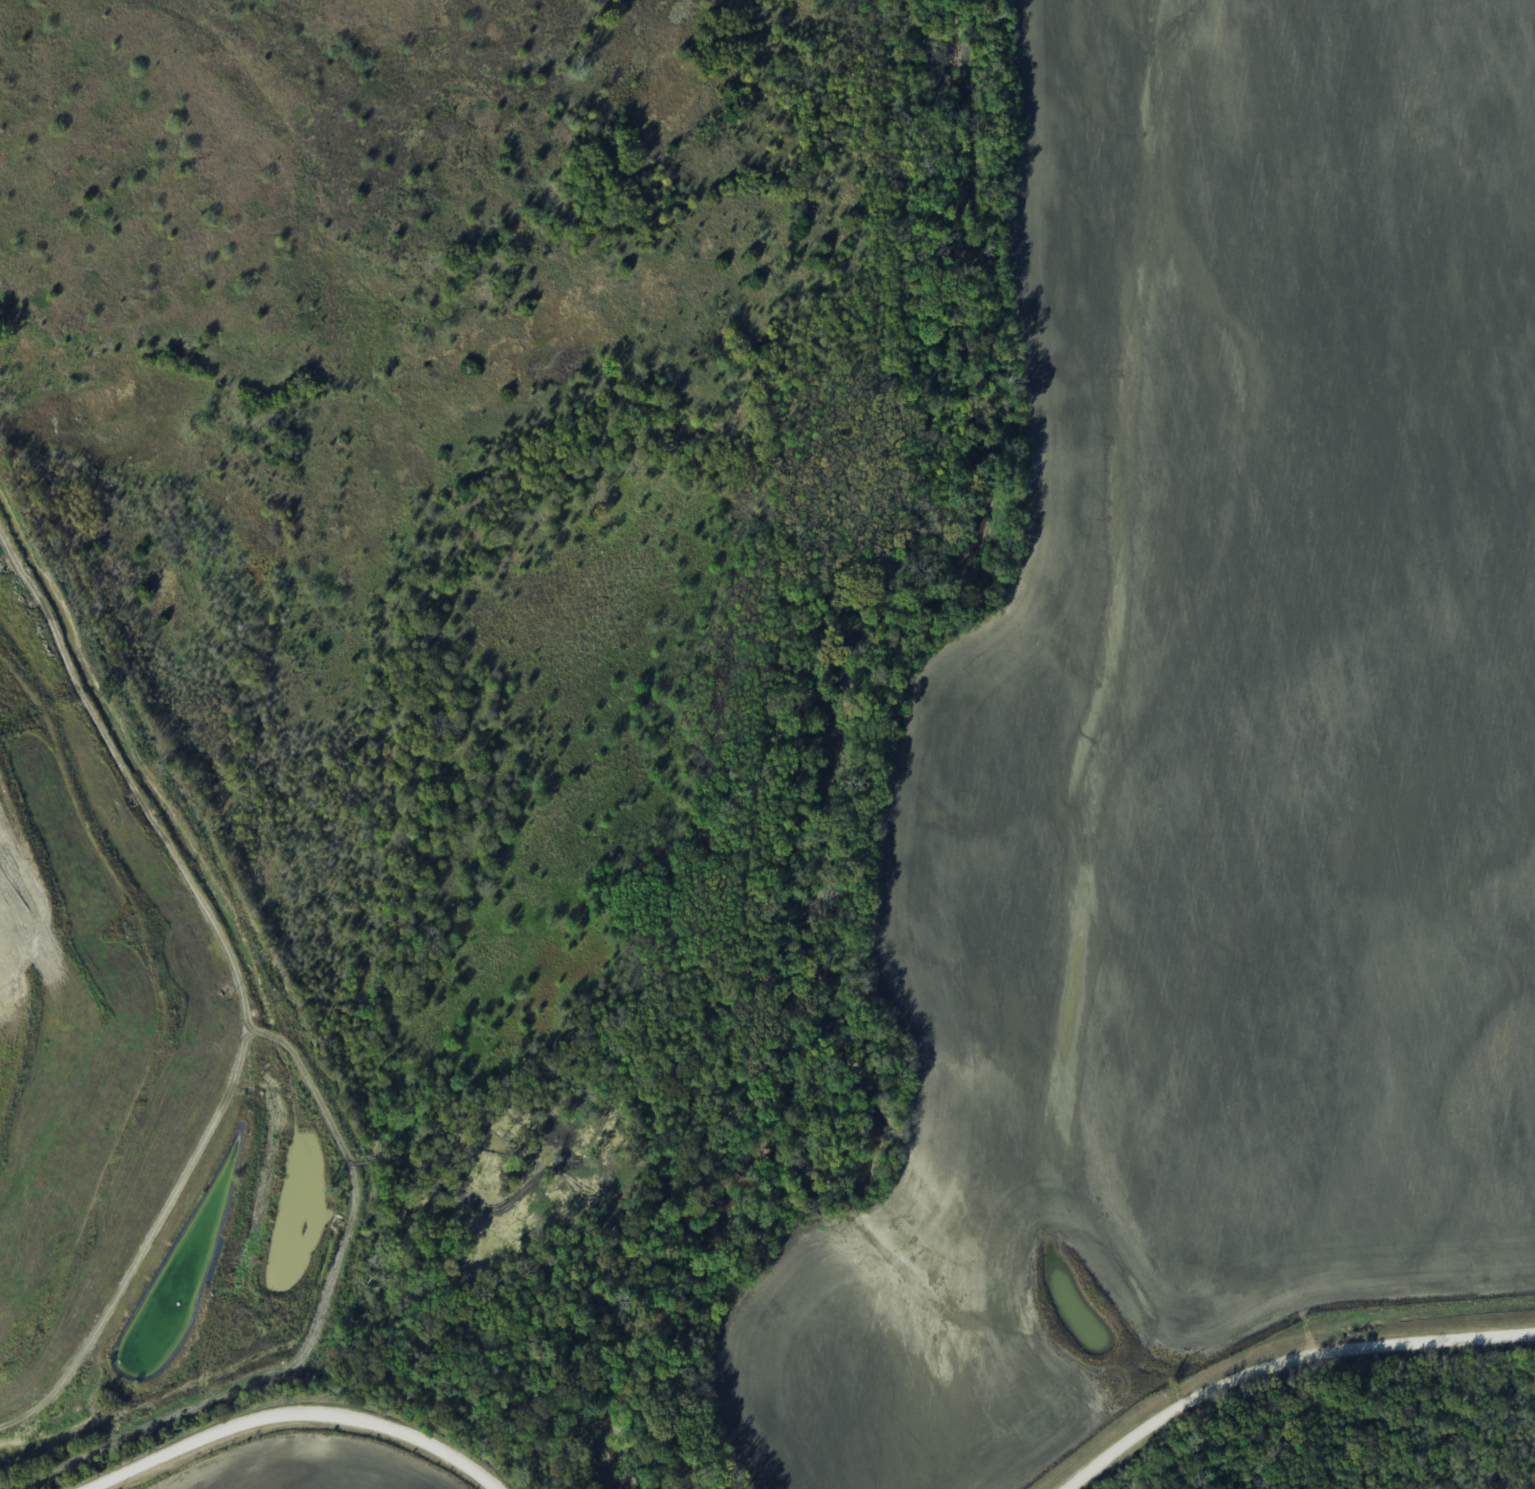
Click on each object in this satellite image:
road: (1279, 1363)
road: (298, 1418)

